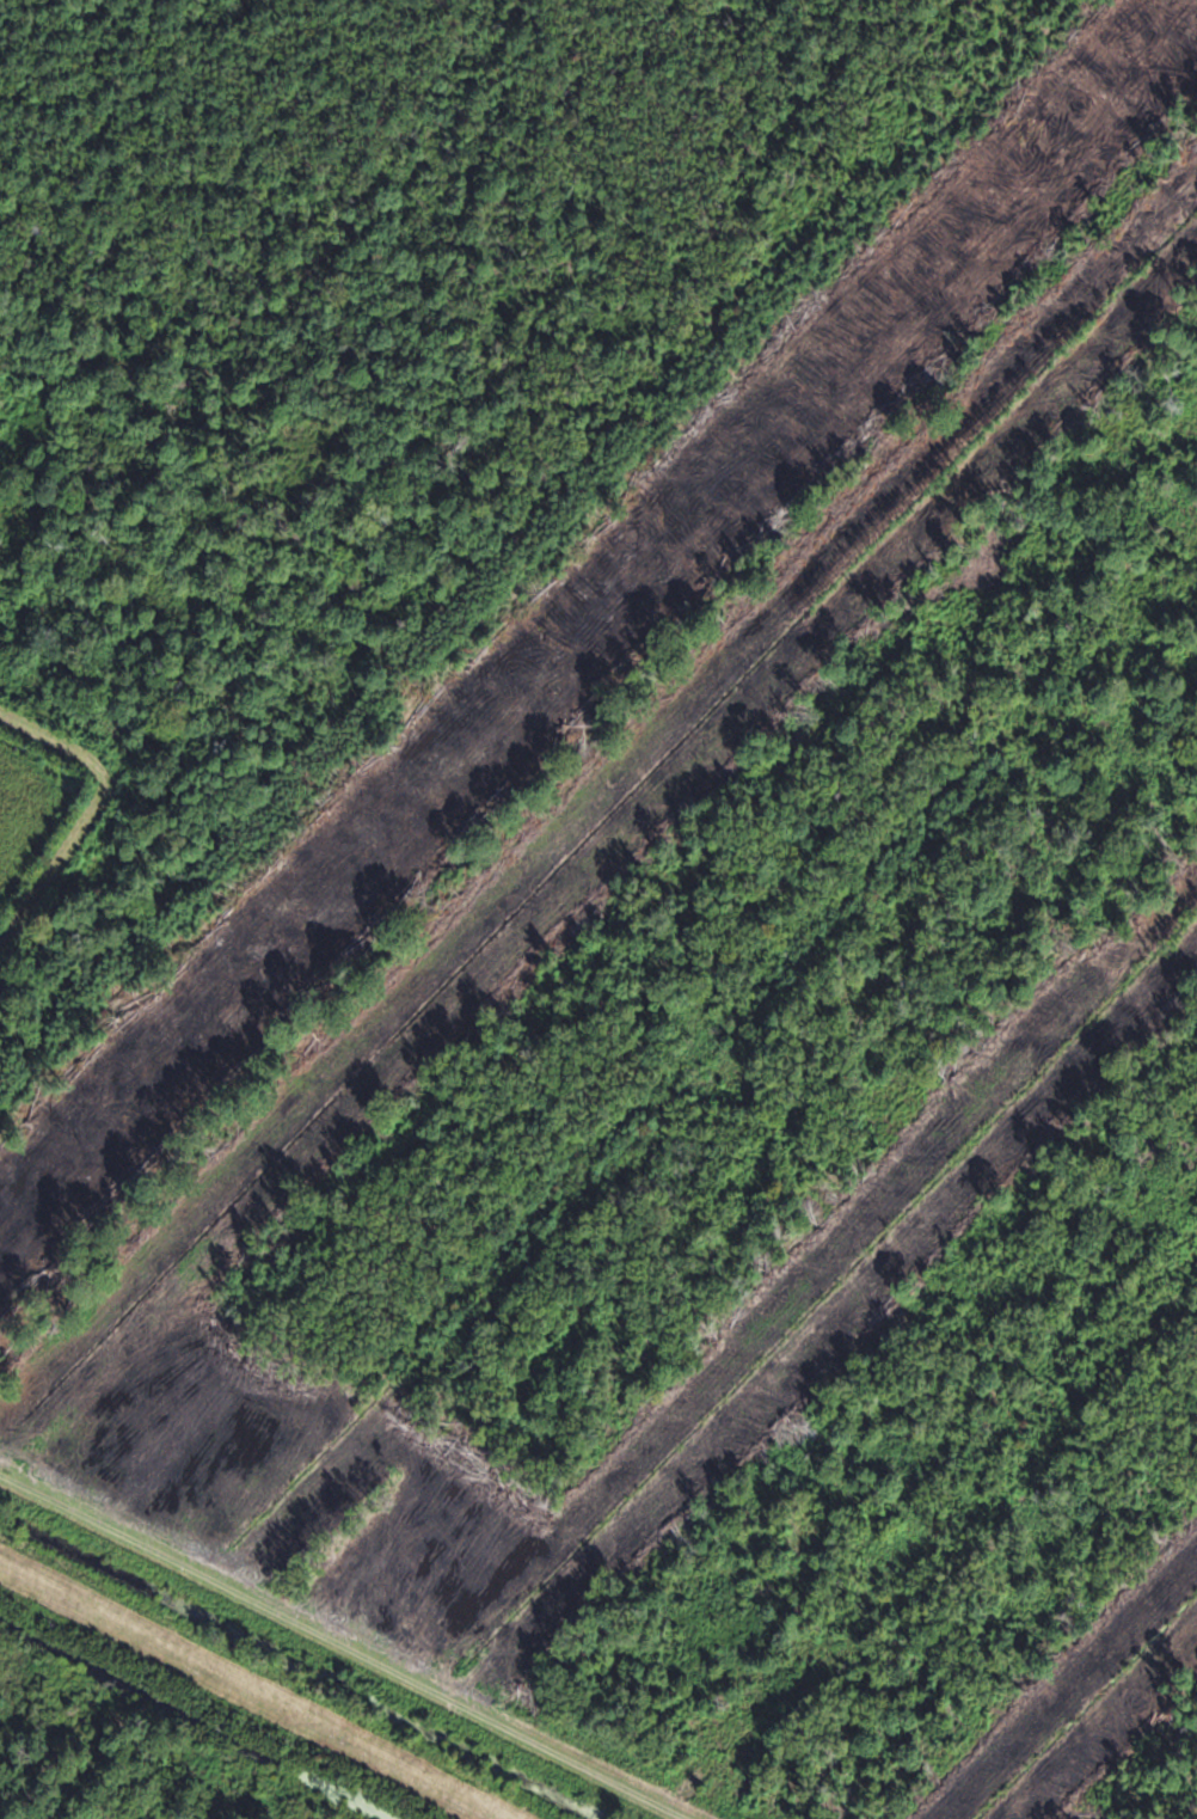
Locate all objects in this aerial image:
road: (331, 1642)

